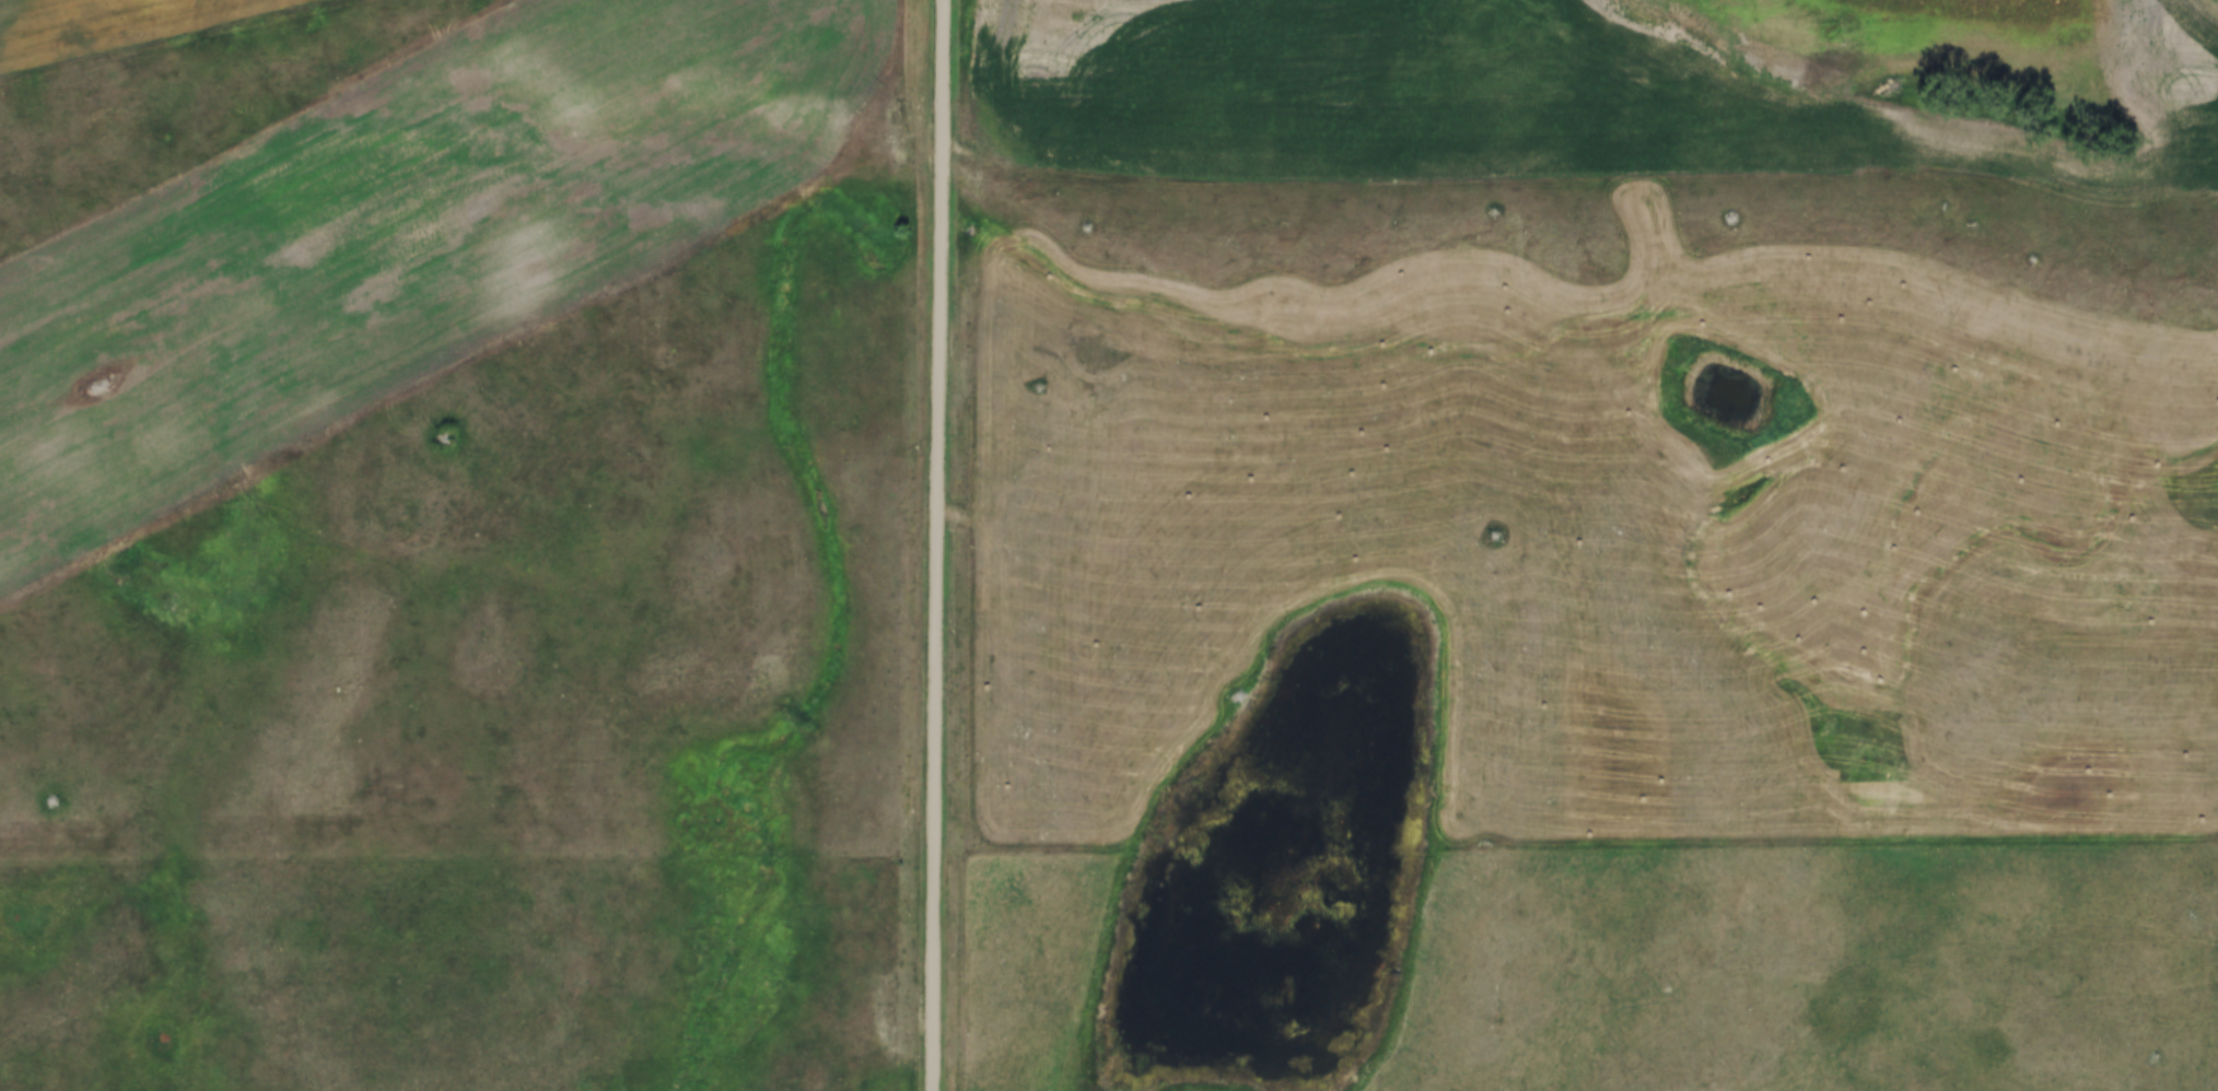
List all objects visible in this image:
road: (938, 545)

